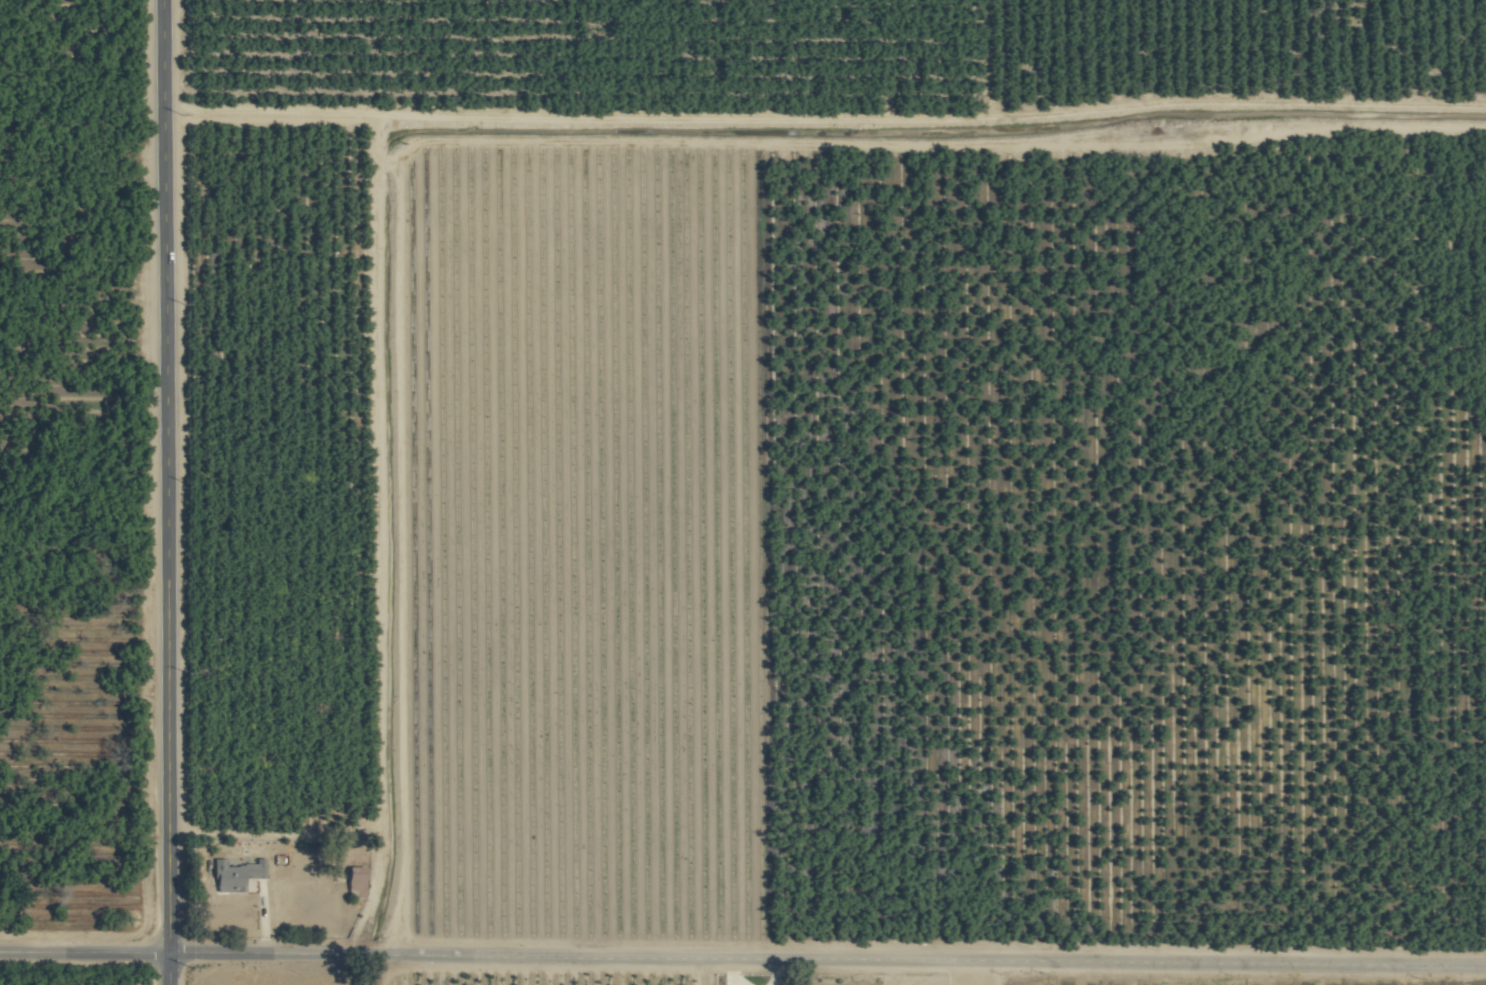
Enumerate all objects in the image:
road: (167, 492)
crop: (743, 492)
building: (235, 874)
building: (354, 882)
road: (262, 915)
road: (743, 953)

